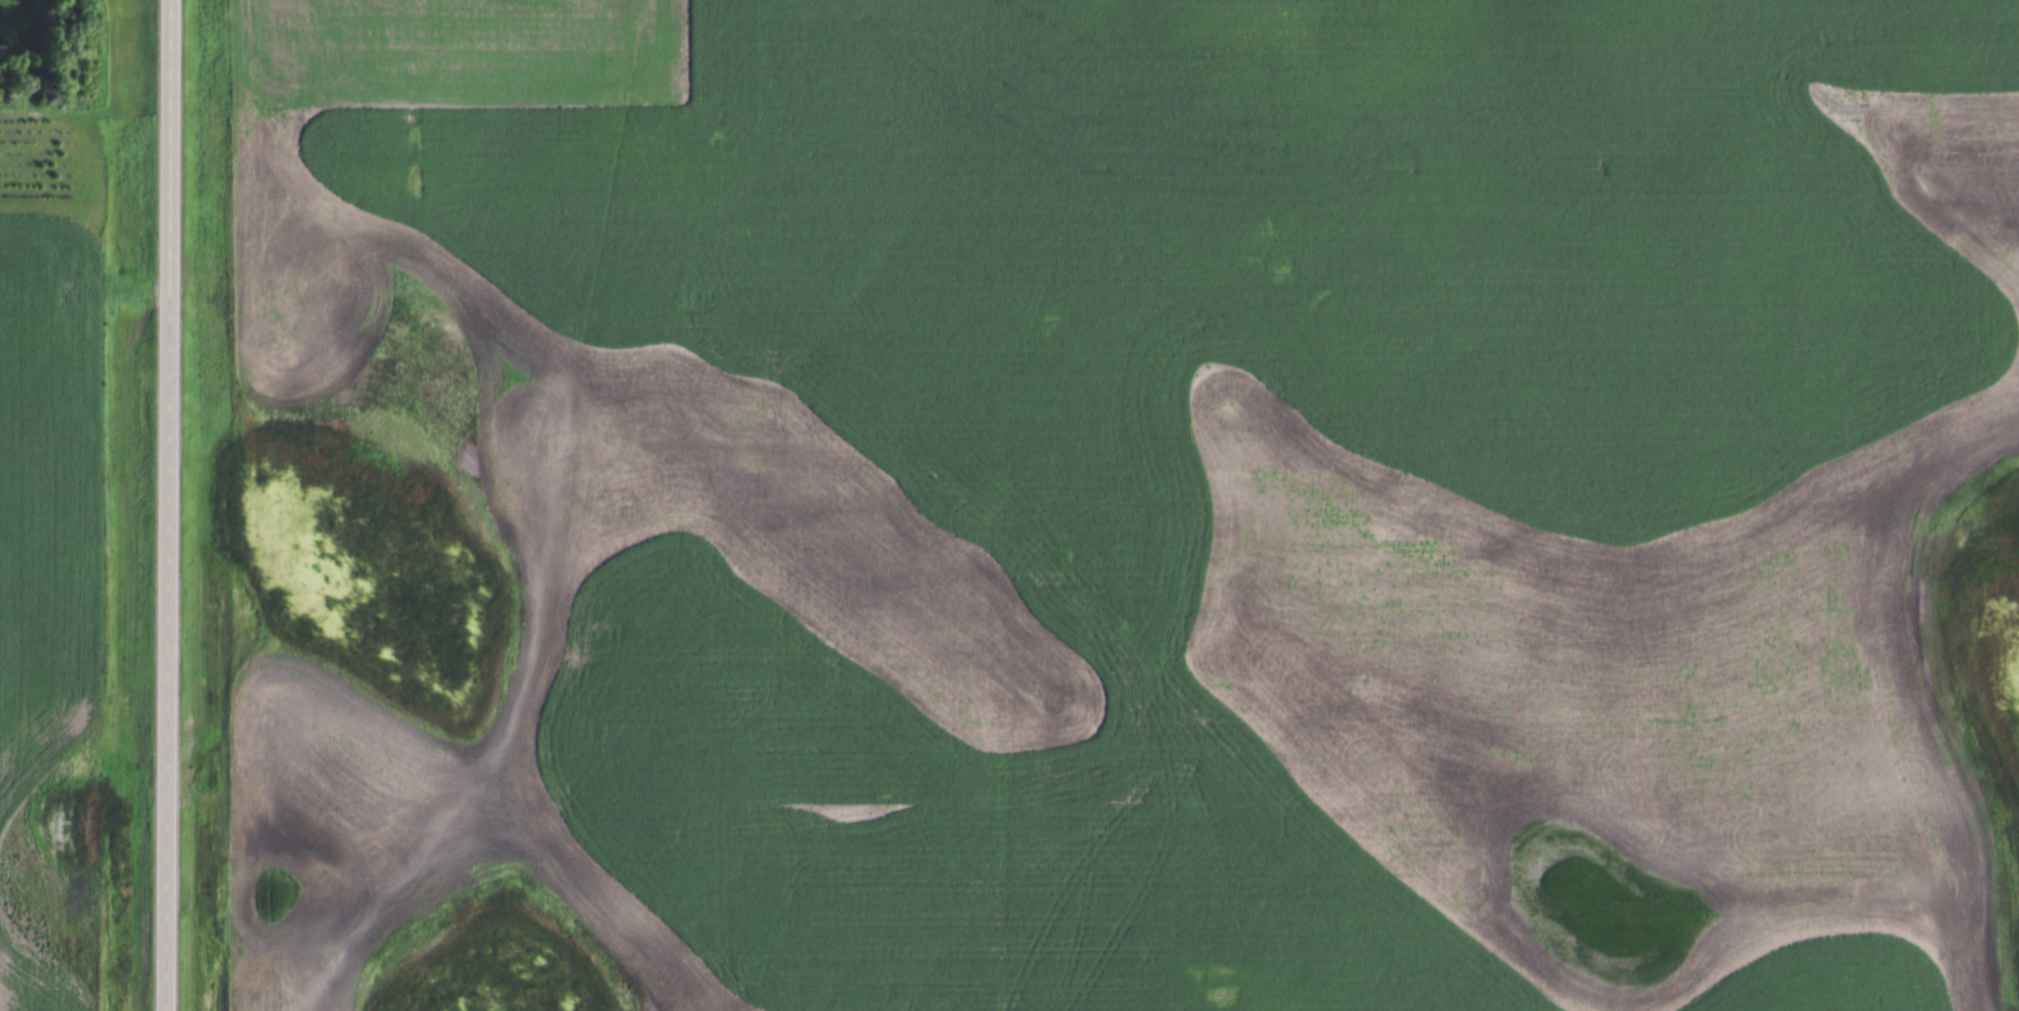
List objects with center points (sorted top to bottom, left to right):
road: (170, 505)

